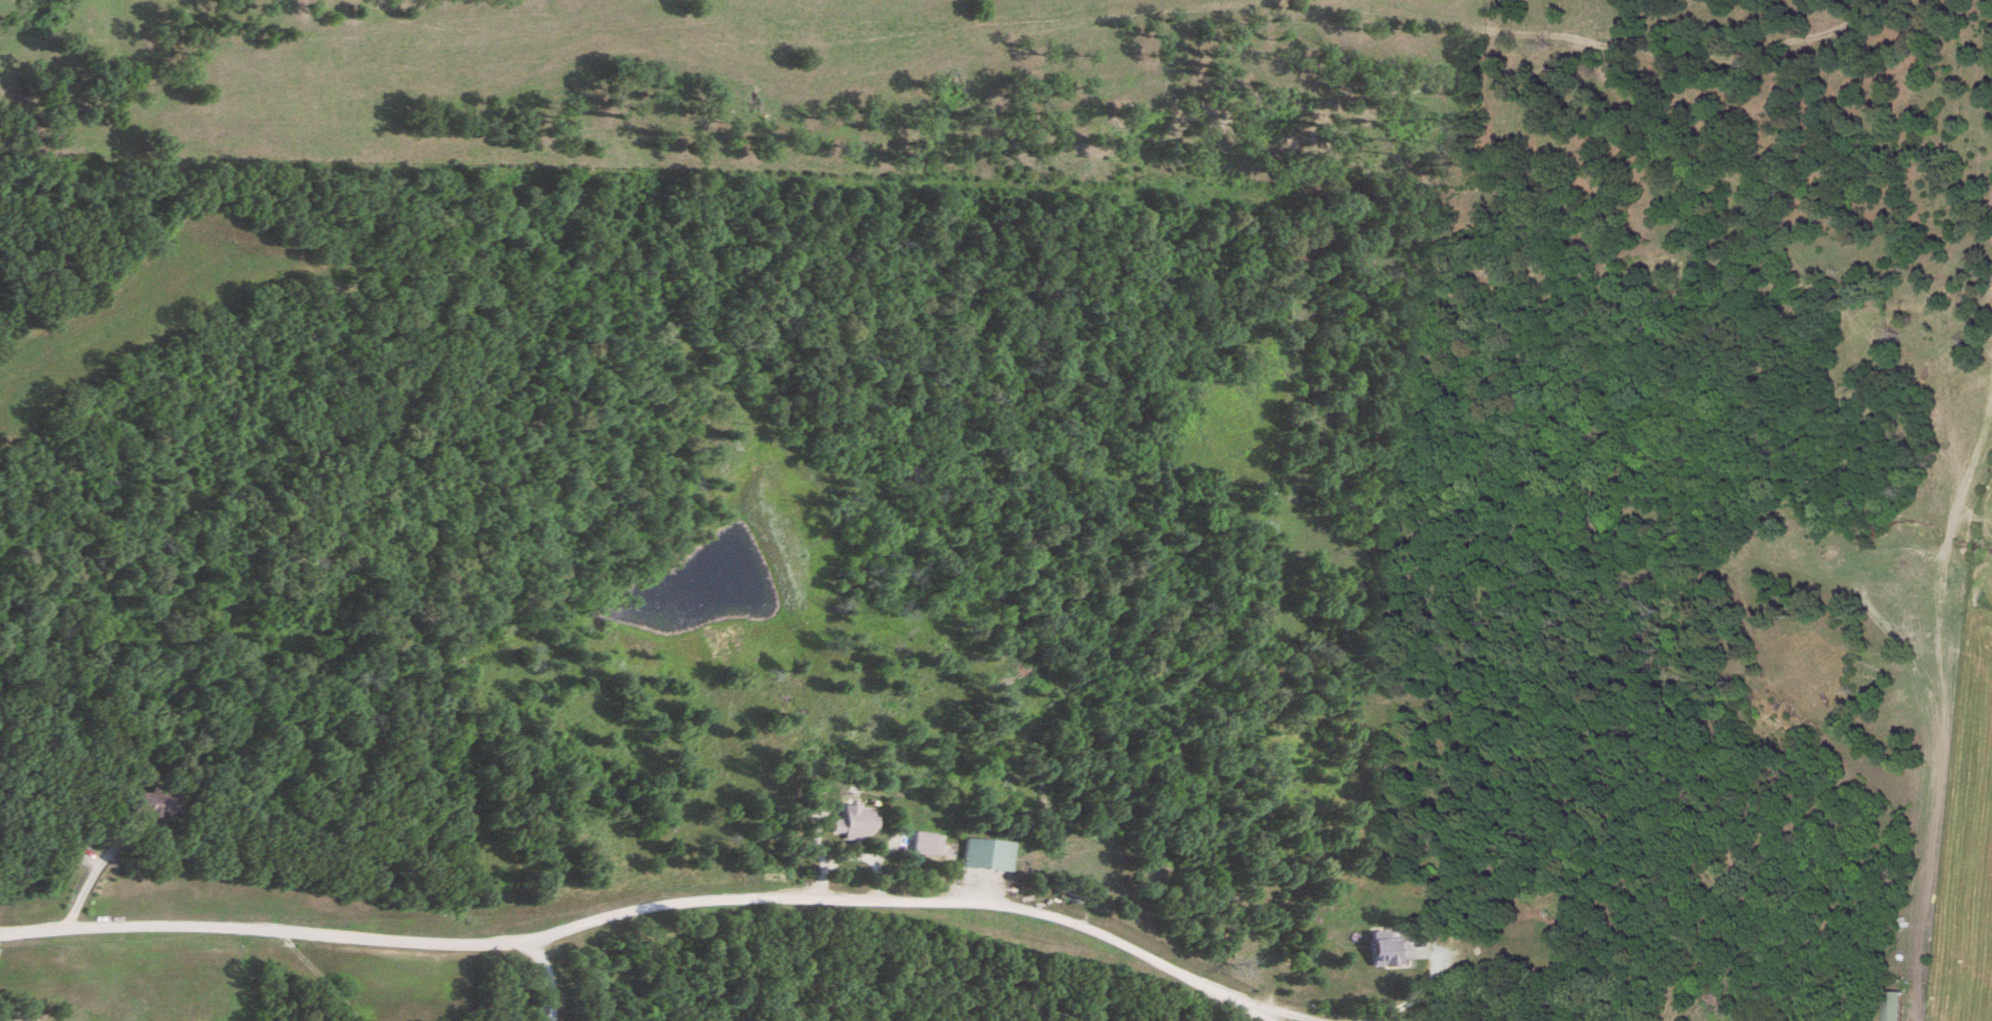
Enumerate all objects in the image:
road: (1009, 714)
building: (151, 806)
building: (862, 822)
building: (929, 844)
building: (988, 855)
road: (86, 884)
road: (645, 907)
building: (1394, 952)
road: (546, 976)
road: (1410, 997)
building: (1897, 1006)
road: (1280, 1010)

